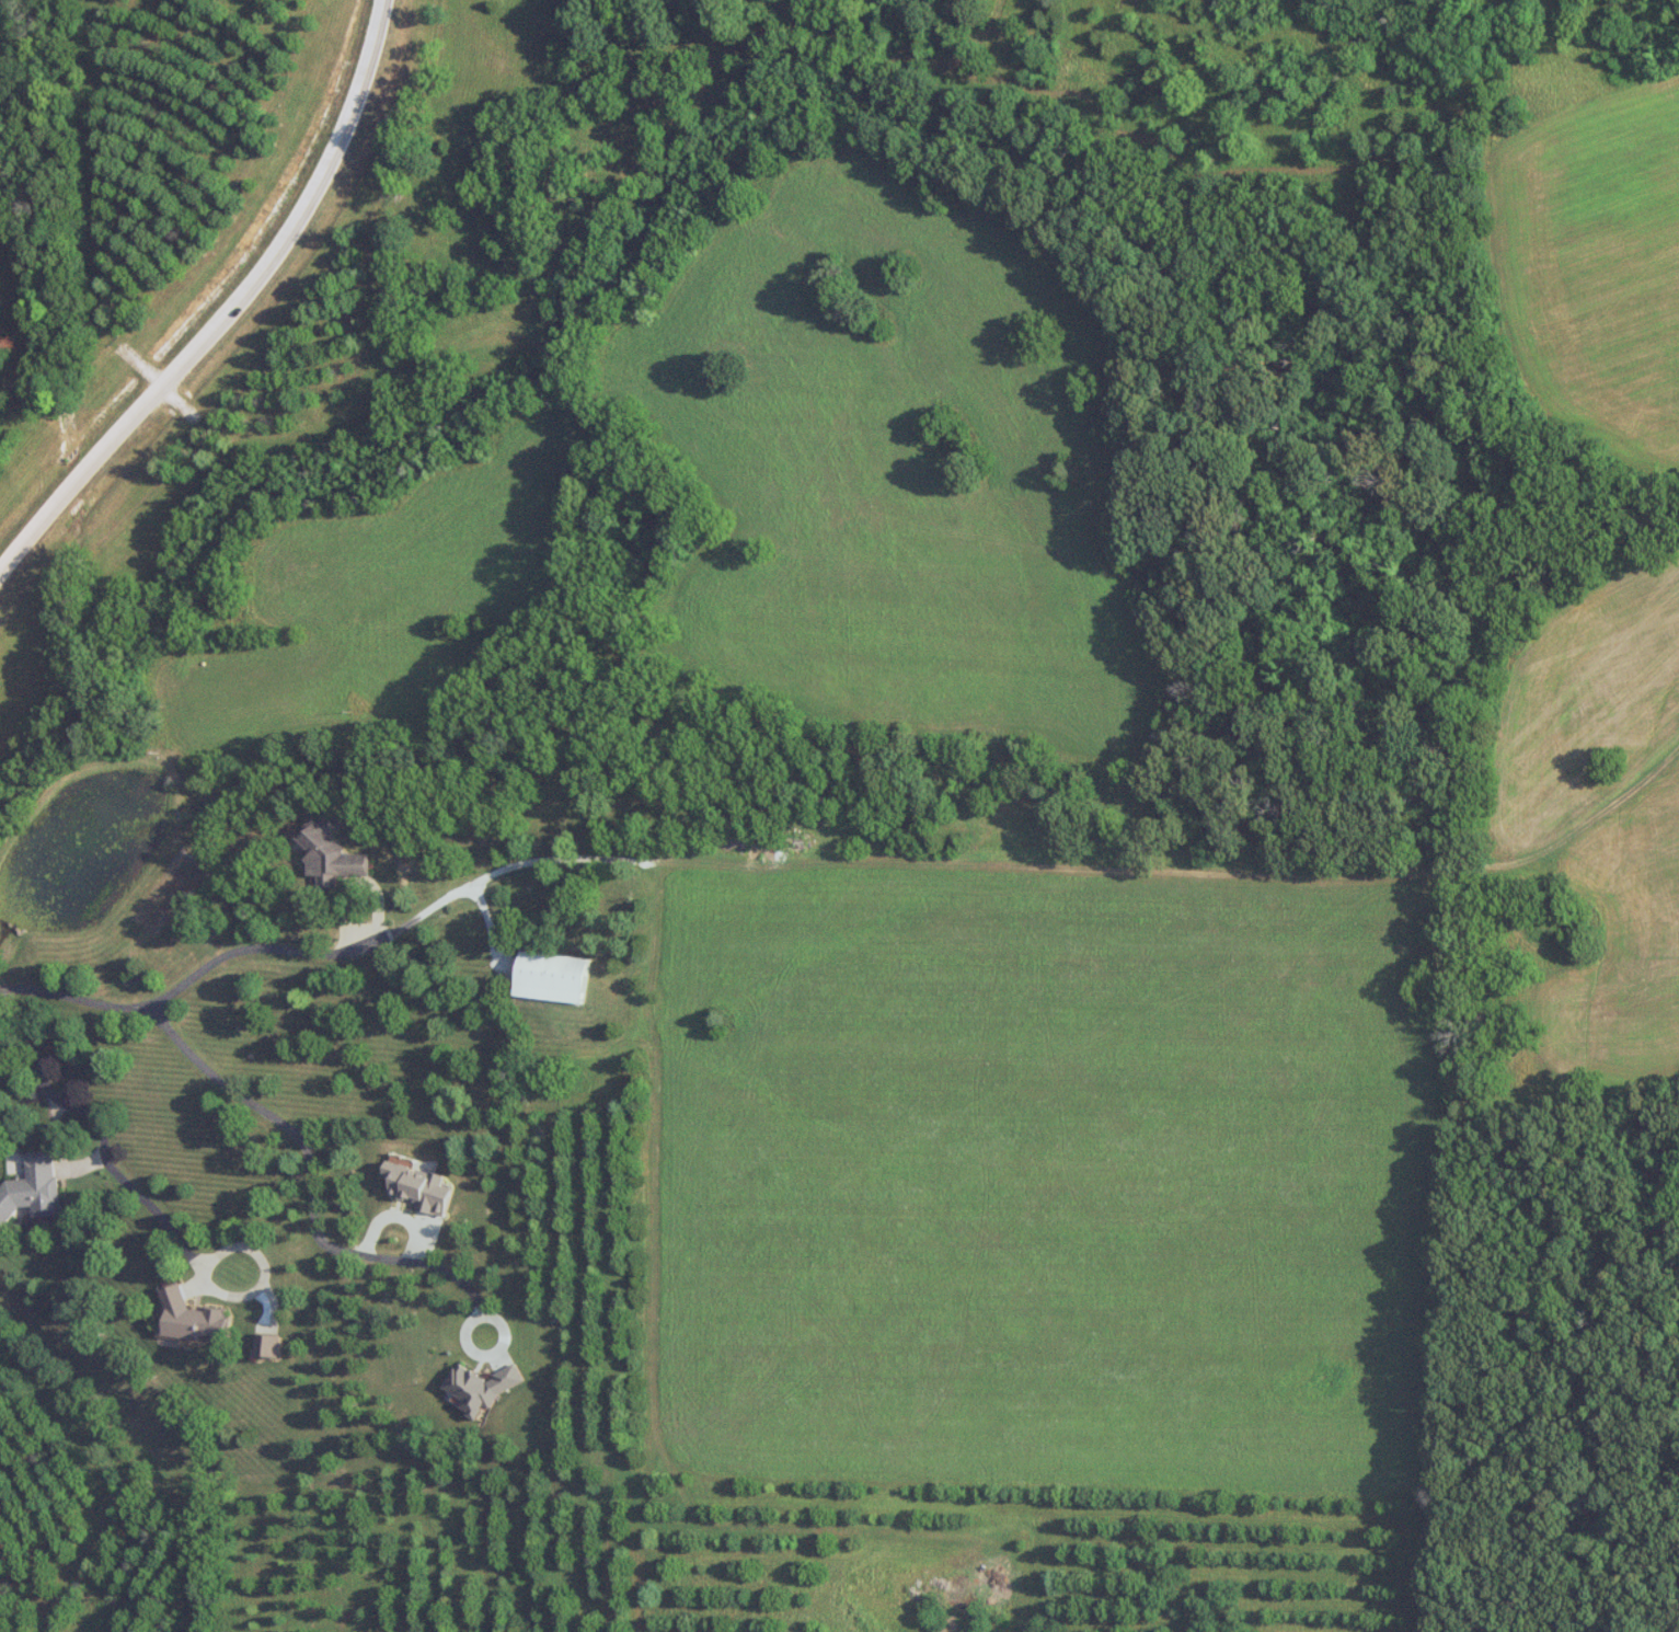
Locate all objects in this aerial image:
road: (235, 317)
building: (327, 851)
road: (274, 953)
building: (540, 975)
road: (103, 1157)
building: (423, 1186)
road: (311, 1189)
building: (32, 1191)
building: (191, 1318)
building: (268, 1345)
building: (479, 1387)

